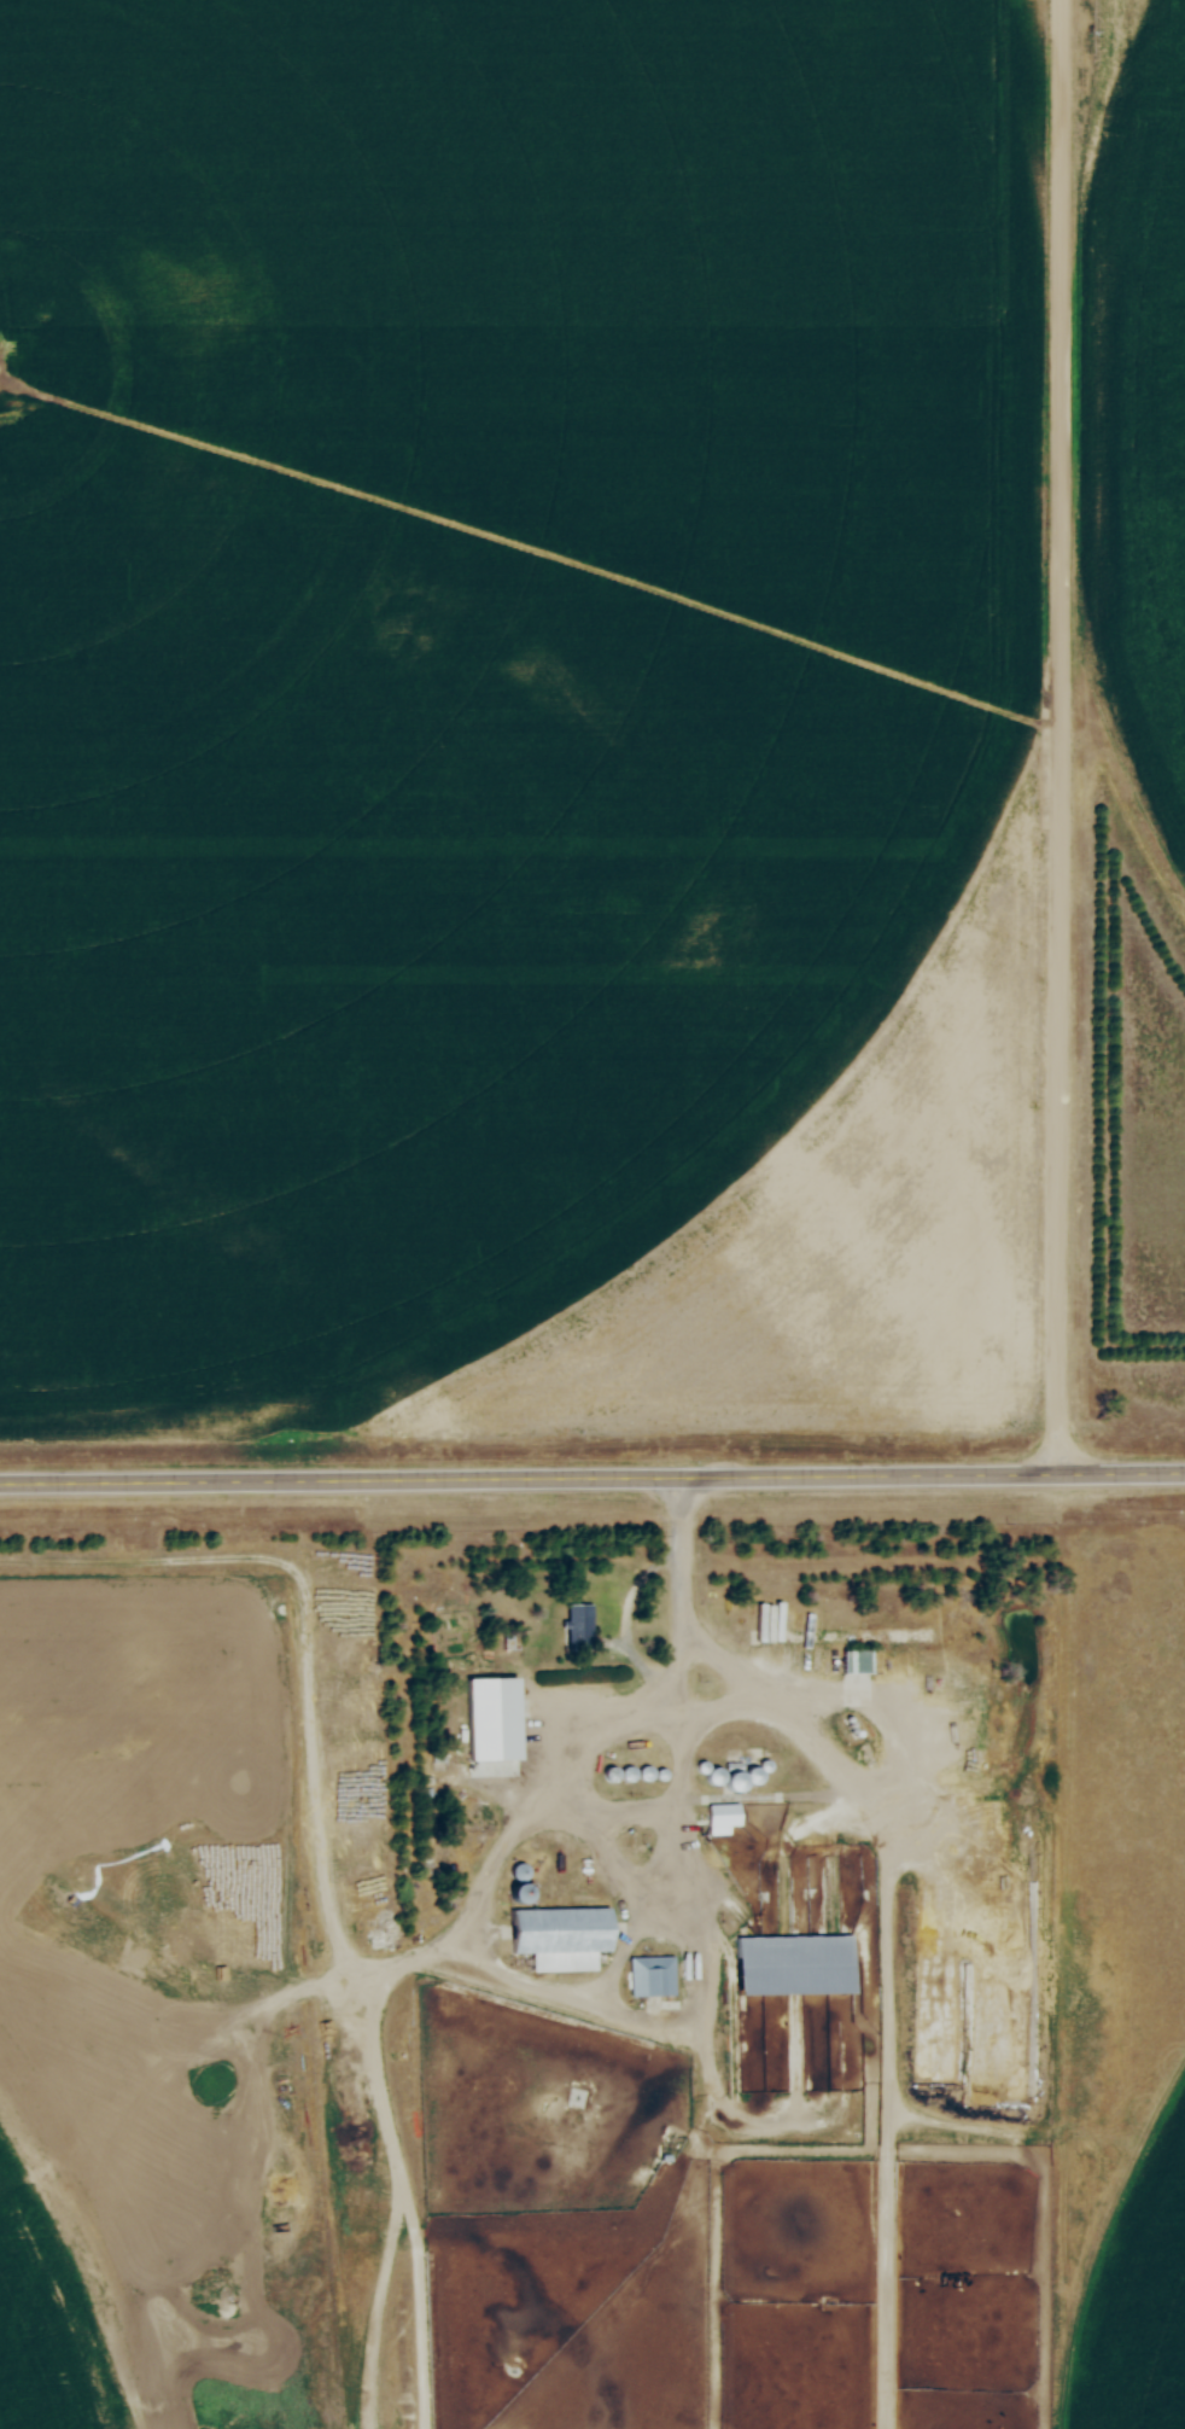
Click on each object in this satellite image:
road: (1062, 736)
road: (592, 1483)
building: (578, 1624)
building: (856, 1661)
building: (862, 1734)
silo: (862, 1734)
road: (618, 1740)
building: (767, 1765)
silo: (767, 1765)
building: (704, 1767)
silo: (704, 1767)
building: (630, 1773)
silo: (630, 1773)
building: (649, 1773)
silo: (649, 1773)
building: (613, 1775)
silo: (613, 1775)
building: (665, 1775)
silo: (665, 1775)
building: (717, 1776)
silo: (717, 1776)
building: (754, 1776)
silo: (754, 1776)
building: (736, 1781)
silo: (736, 1781)
building: (722, 1818)
road: (899, 1852)
building: (523, 1872)
silo: (523, 1872)
building: (520, 1893)
silo: (520, 1893)
building: (561, 1938)
building: (793, 1965)
building: (650, 1976)

